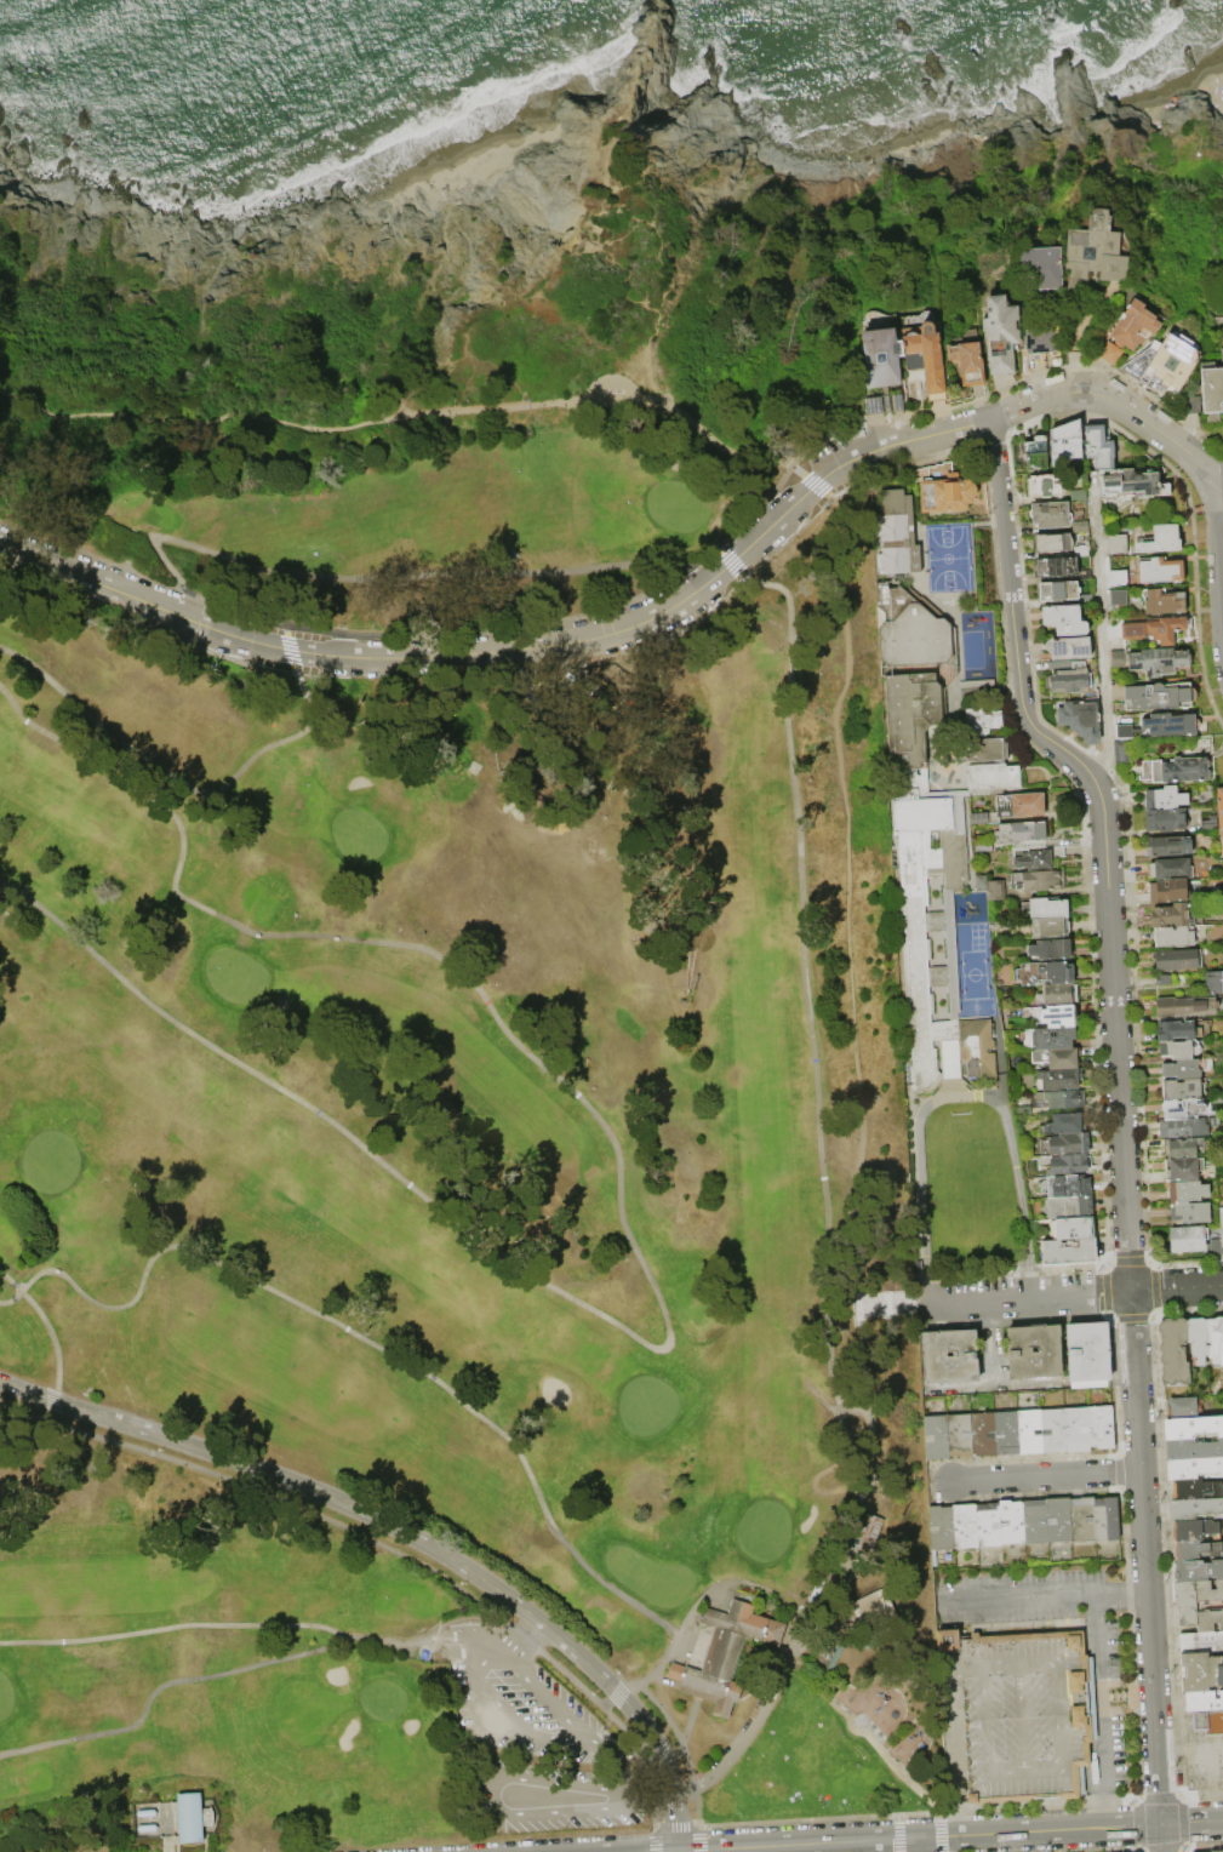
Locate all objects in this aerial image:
park: (1182, 102)
building: (1093, 252)
building: (1040, 269)
park: (434, 286)
building: (1130, 331)
building: (1000, 335)
building: (1040, 342)
building: (880, 351)
building: (925, 351)
building: (1222, 356)
building: (967, 359)
building: (1165, 364)
road: (610, 379)
building: (1212, 391)
road: (607, 398)
road: (1109, 398)
building: (1191, 406)
road: (175, 421)
road: (927, 435)
building: (1098, 447)
building: (1065, 448)
building: (1035, 457)
road: (1217, 471)
building: (1133, 485)
building: (1046, 486)
building: (947, 495)
building: (1079, 496)
road: (779, 515)
building: (1057, 516)
park: (432, 521)
building: (897, 533)
building: (1161, 541)
building: (1052, 543)
building: (1116, 545)
building: (1081, 551)
building: (951, 559)
road: (1216, 564)
building: (1055, 568)
building: (1160, 571)
road: (81, 576)
road: (354, 578)
building: (1118, 578)
building: (1057, 591)
building: (1118, 599)
building: (1162, 602)
road: (668, 607)
building: (1064, 621)
building: (1156, 629)
road: (1099, 635)
road: (278, 646)
building: (1068, 648)
road: (516, 651)
building: (1118, 659)
building: (1158, 662)
building: (1068, 678)
building: (976, 682)
building: (1158, 697)
building: (983, 719)
building: (1080, 720)
building: (1189, 725)
building: (1162, 726)
building: (1126, 732)
building: (988, 749)
building: (1122, 754)
building: (1177, 770)
building: (993, 776)
road: (184, 787)
building: (1165, 798)
building: (1024, 805)
building: (922, 814)
building: (1219, 816)
building: (978, 817)
building: (1166, 819)
building: (1208, 824)
park: (361, 835)
building: (1023, 835)
road: (1104, 838)
building: (983, 845)
building: (1167, 846)
building: (1031, 858)
building: (1170, 869)
building: (1038, 880)
building: (981, 881)
building: (995, 890)
building: (1167, 891)
building: (1045, 907)
building: (1171, 915)
building: (1050, 927)
building: (1172, 936)
building: (1050, 949)
building: (1221, 953)
road: (853, 954)
building: (1177, 959)
building: (1044, 972)
park: (238, 974)
building: (1164, 978)
building: (1215, 982)
building: (1057, 994)
road: (810, 998)
building: (1185, 1006)
building: (1059, 1014)
building: (1177, 1030)
building: (1050, 1038)
building: (977, 1046)
building: (1178, 1050)
building: (1057, 1057)
building: (1183, 1069)
building: (1058, 1079)
building: (1183, 1088)
road: (960, 1094)
building: (1064, 1098)
park: (445, 1103)
building: (1181, 1108)
building: (1065, 1124)
building: (1182, 1127)
building: (1065, 1143)
park: (452, 1144)
building: (1182, 1147)
park: (53, 1162)
building: (1067, 1165)
building: (1181, 1168)
building: (1068, 1184)
building: (1187, 1191)
building: (1069, 1206)
building: (1190, 1212)
building: (1074, 1228)
building: (1188, 1239)
building: (1217, 1239)
road: (633, 1242)
building: (1069, 1251)
road: (1177, 1286)
road: (1079, 1292)
road: (970, 1298)
road: (886, 1304)
road: (847, 1307)
building: (1199, 1339)
building: (1216, 1339)
building: (1175, 1351)
building: (1035, 1353)
building: (1088, 1353)
building: (951, 1356)
road: (402, 1359)
road: (62, 1368)
building: (1185, 1407)
building: (1103, 1428)
building: (1193, 1428)
building: (1079, 1430)
building: (1053, 1431)
building: (1029, 1433)
building: (1006, 1434)
building: (982, 1435)
building: (959, 1436)
building: (937, 1437)
building: (1193, 1450)
building: (1194, 1468)
road: (1045, 1475)
building: (1196, 1490)
building: (1194, 1509)
building: (1084, 1519)
building: (1108, 1519)
building: (1059, 1520)
building: (1012, 1522)
building: (1036, 1522)
building: (966, 1526)
building: (989, 1526)
building: (943, 1528)
building: (1194, 1531)
building: (869, 1533)
road: (410, 1534)
building: (1198, 1551)
road: (1145, 1556)
building: (1199, 1571)
park: (652, 1576)
road: (1119, 1590)
road: (1018, 1596)
road: (703, 1600)
building: (1200, 1605)
building: (875, 1612)
road: (285, 1625)
road: (524, 1635)
road: (445, 1640)
road: (793, 1642)
building: (1201, 1642)
building: (728, 1653)
road: (1057, 1664)
building: (1013, 1670)
building: (1201, 1673)
park: (259, 1679)
road: (687, 1688)
road: (1101, 1688)
building: (699, 1693)
park: (6, 1696)
parking lot: (518, 1698)
park: (385, 1699)
road: (167, 1700)
building: (1202, 1702)
road: (1022, 1717)
road: (985, 1719)
building: (1200, 1722)
building: (1215, 1724)
road: (539, 1736)
road: (685, 1740)
road: (1170, 1749)
road: (1207, 1749)
road: (956, 1750)
building: (1017, 1750)
road: (891, 1764)
road: (1025, 1771)
road: (572, 1783)
road: (495, 1791)
parking lot: (555, 1796)
road: (657, 1797)
road: (1103, 1807)
road: (571, 1810)
building: (147, 1813)
building: (193, 1818)
road: (1191, 1822)
building: (148, 1829)
road: (1039, 1830)
road: (1161, 1837)
road: (798, 1845)
road: (919, 1845)
building: (1212, 1851)

